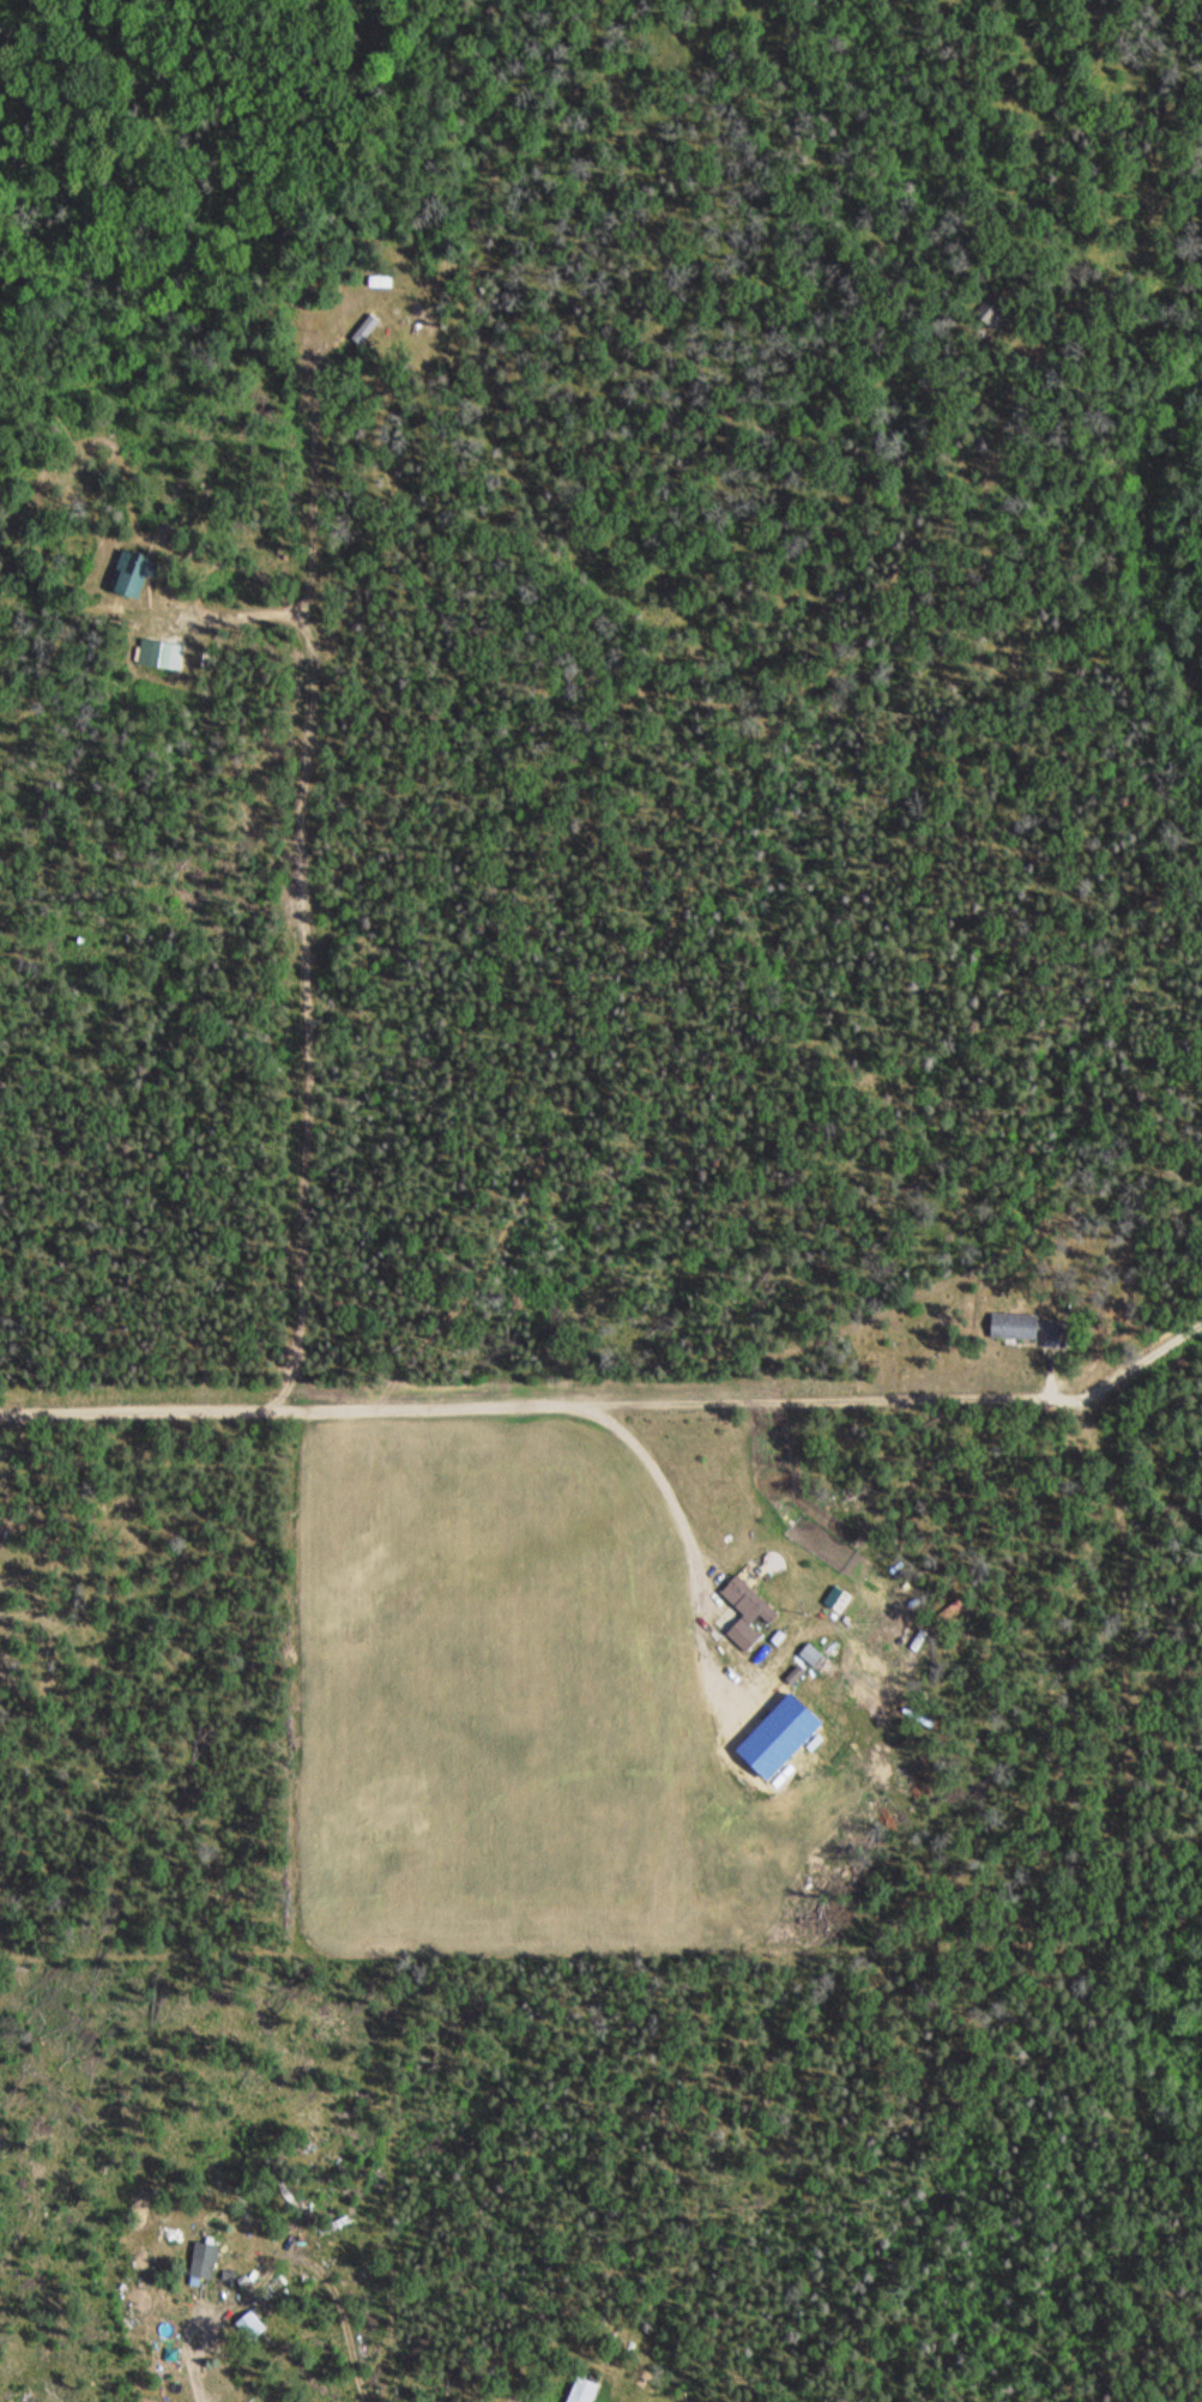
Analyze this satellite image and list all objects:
building: (380, 280)
building: (415, 309)
building: (990, 313)
building: (429, 322)
road: (189, 572)
building: (131, 573)
building: (152, 652)
road: (303, 881)
building: (1028, 1328)
road: (799, 1346)
road: (1002, 1386)
road: (363, 1410)
road: (664, 1486)
building: (745, 1611)
building: (203, 2261)
building: (249, 2325)
building: (581, 2391)

